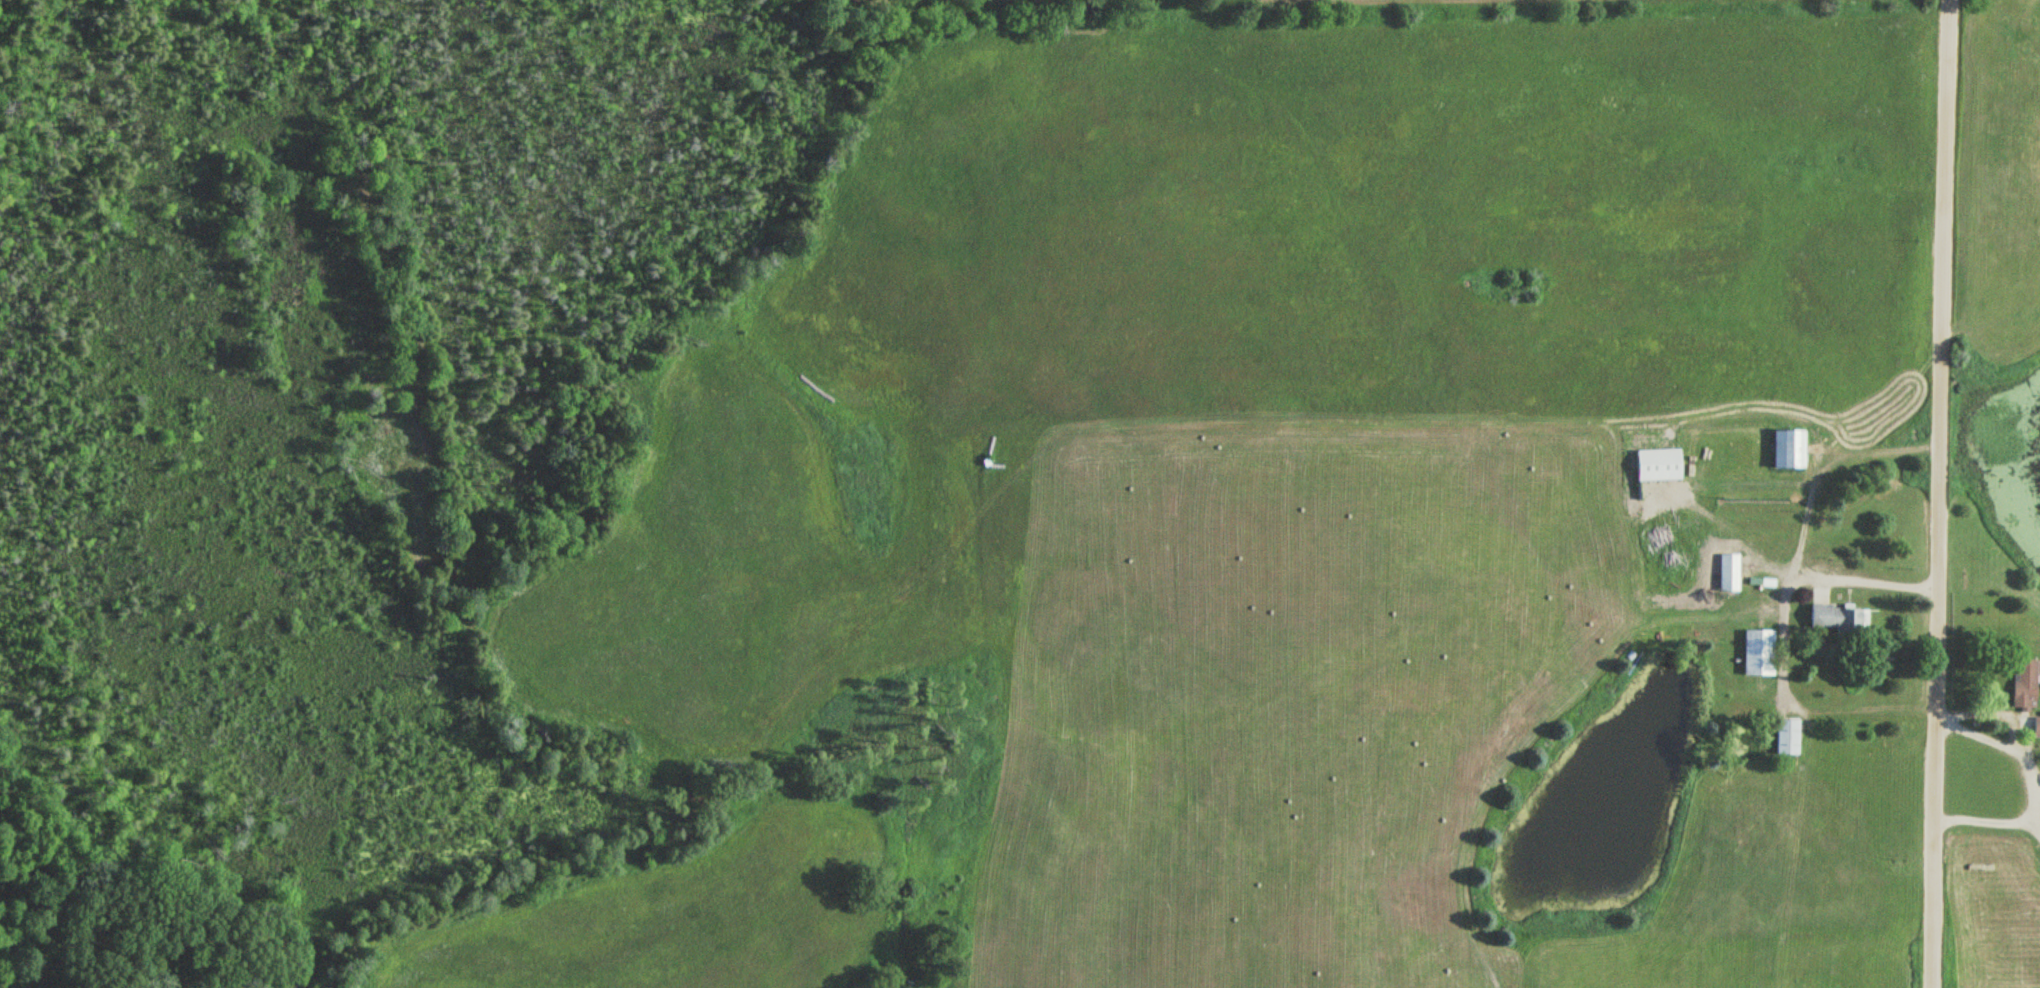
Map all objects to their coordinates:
building: (1785, 448)
building: (1655, 465)
road: (1941, 493)
building: (1728, 572)
building: (1835, 617)
road: (1784, 644)
building: (1758, 652)
building: (2024, 683)
building: (2035, 727)
building: (1786, 736)
road: (2034, 783)

